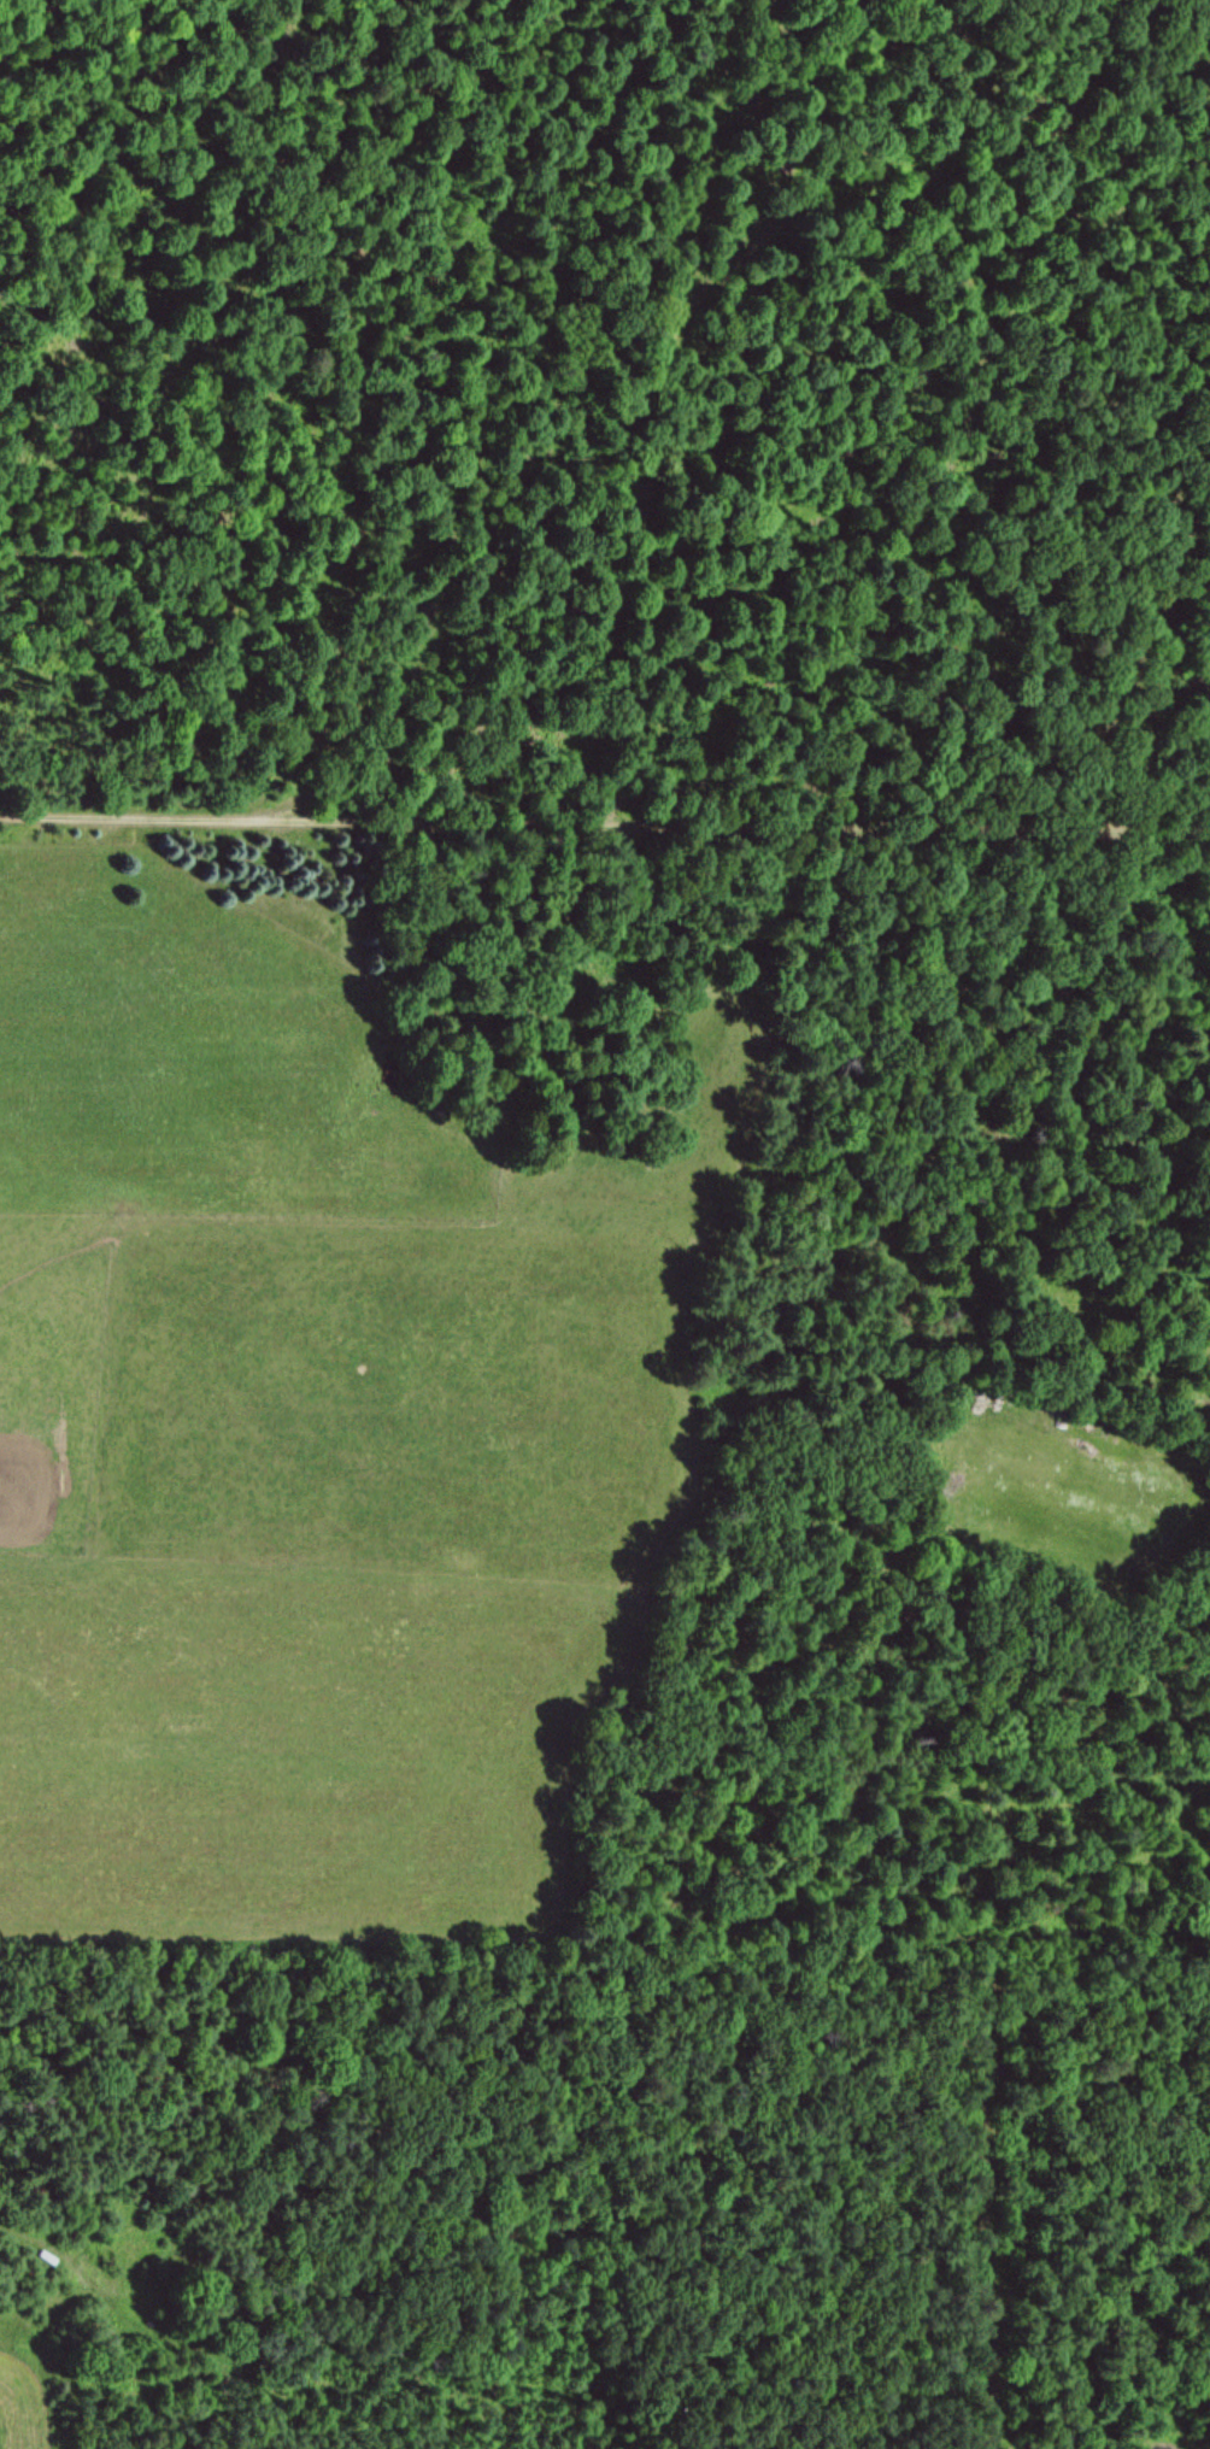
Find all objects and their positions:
road: (605, 833)

